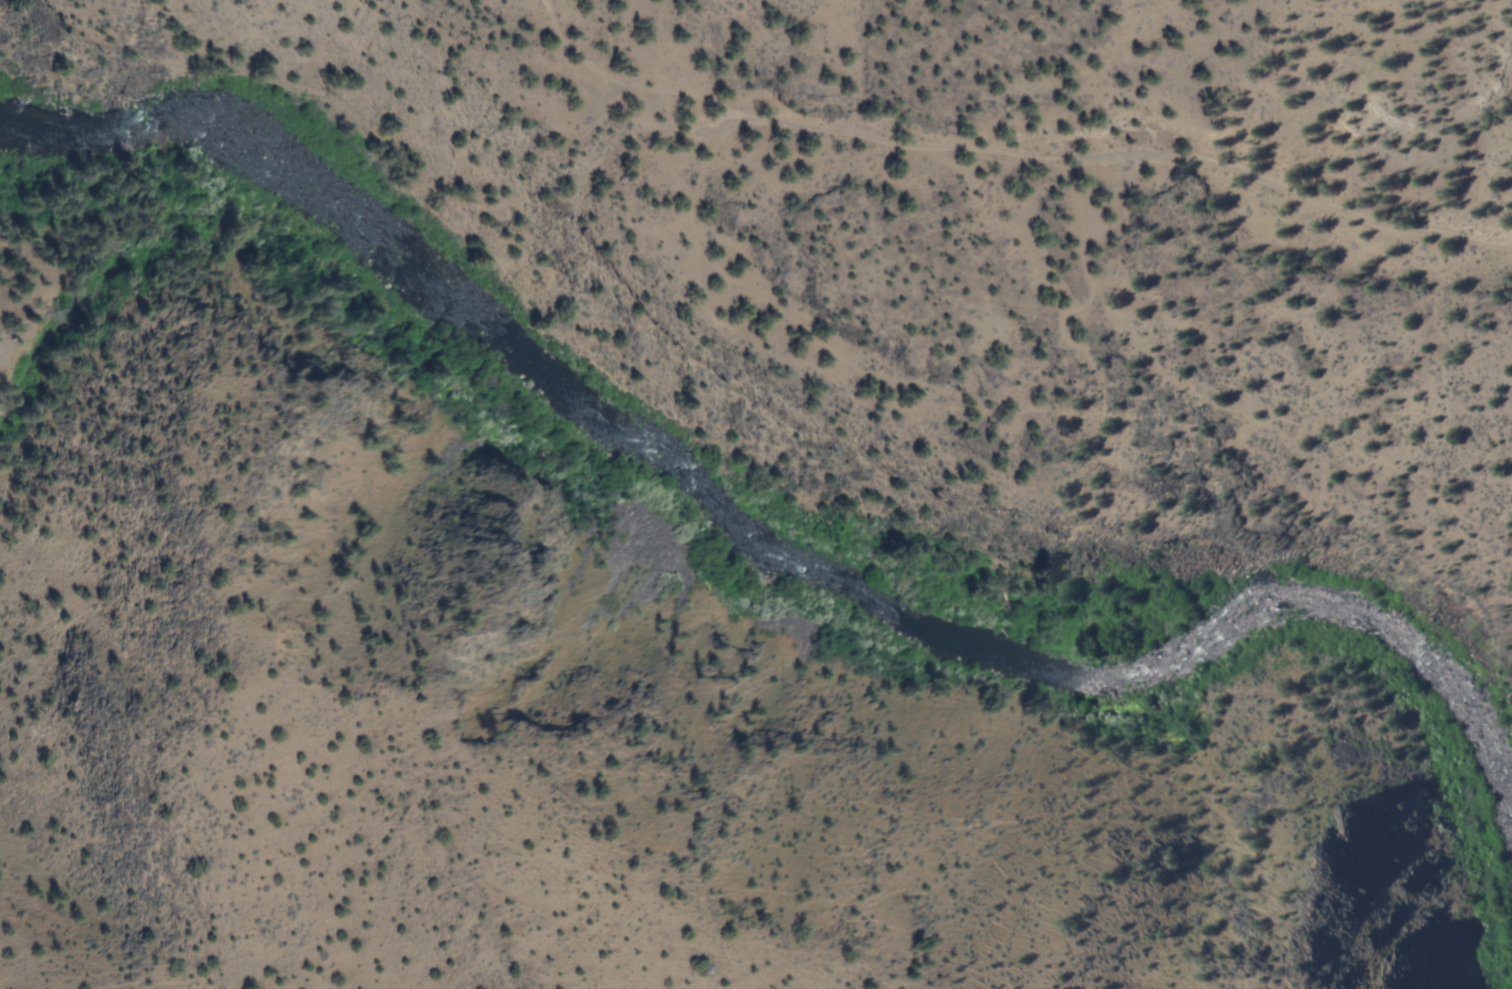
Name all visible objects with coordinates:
road: (1011, 152)
river: (837, 573)

